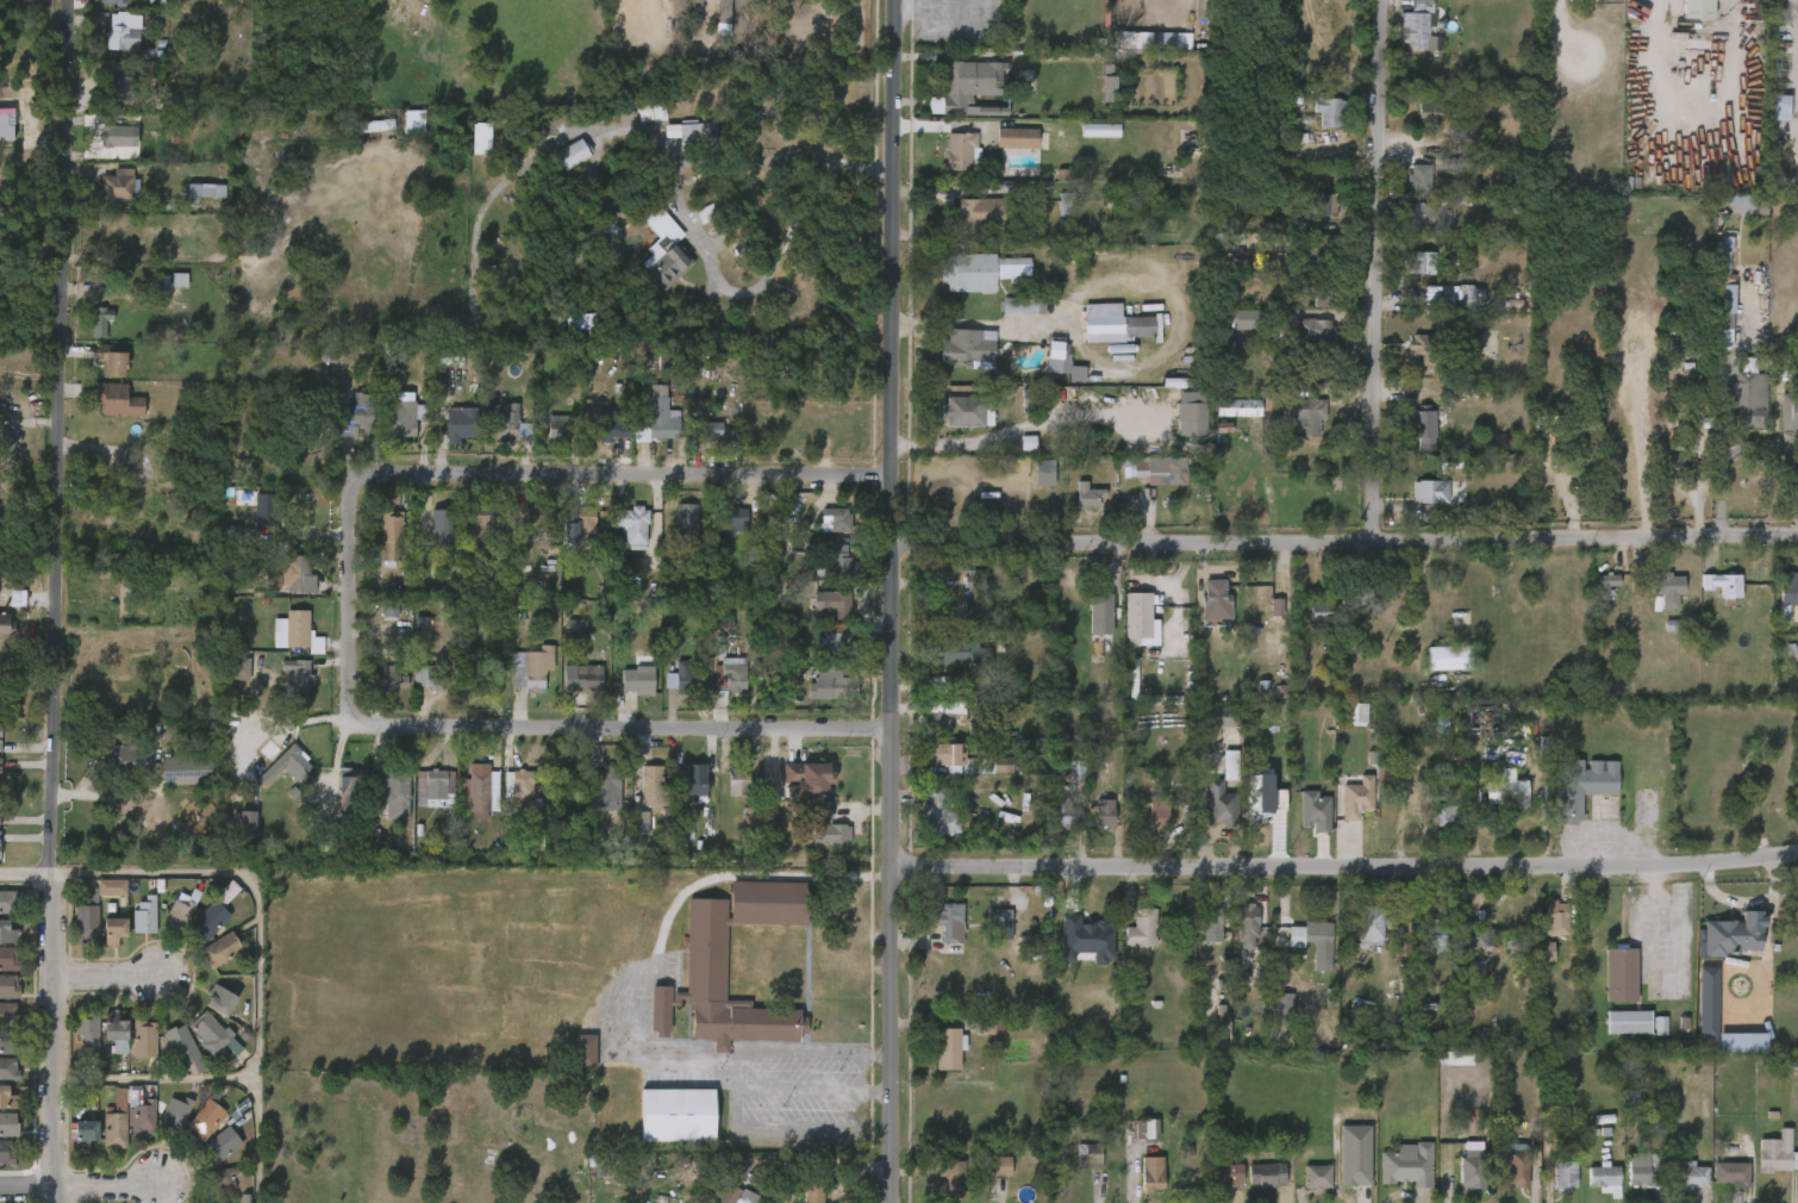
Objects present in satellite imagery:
building: (114, 0)
building: (695, 5)
road: (910, 8)
building: (1698, 8)
building: (723, 10)
building: (1417, 27)
building: (126, 32)
building: (1181, 45)
building: (970, 82)
building: (118, 89)
building: (1107, 89)
building: (1779, 108)
building: (651, 112)
building: (1329, 112)
building: (1431, 113)
road: (1680, 118)
building: (413, 123)
building: (554, 125)
building: (376, 126)
building: (7, 127)
building: (1100, 130)
building: (699, 133)
building: (114, 135)
building: (1018, 137)
building: (480, 139)
building: (963, 150)
building: (574, 152)
building: (1417, 179)
building: (117, 183)
building: (206, 189)
building: (1738, 204)
building: (1066, 205)
road: (680, 210)
building: (985, 210)
building: (1325, 210)
building: (502, 214)
building: (1426, 218)
building: (1234, 238)
building: (664, 249)
building: (1325, 256)
building: (1065, 257)
building: (1419, 262)
road: (1375, 269)
building: (959, 270)
building: (179, 280)
building: (161, 281)
building: (1723, 281)
road: (470, 288)
building: (1324, 295)
building: (1455, 297)
building: (1019, 305)
building: (1247, 319)
building: (99, 320)
building: (580, 324)
road: (980, 325)
building: (1117, 325)
building: (1313, 330)
building: (1723, 339)
building: (961, 348)
building: (1425, 349)
building: (326, 354)
building: (1057, 357)
building: (449, 359)
building: (111, 360)
building: (1315, 370)
building: (1076, 374)
building: (1176, 382)
building: (1744, 397)
building: (1026, 399)
building: (1063, 399)
building: (118, 400)
building: (1237, 409)
road: (1717, 410)
building: (969, 411)
building: (356, 414)
building: (658, 417)
building: (1306, 418)
building: (397, 419)
building: (1191, 419)
building: (511, 424)
building: (608, 425)
building: (556, 428)
road: (1022, 429)
building: (458, 430)
building: (711, 430)
building: (1422, 431)
building: (7, 442)
building: (1028, 443)
building: (1675, 465)
building: (1578, 466)
building: (1137, 469)
building: (1044, 473)
road: (626, 474)
building: (1424, 493)
building: (1090, 499)
building: (263, 510)
building: (538, 516)
building: (483, 519)
building: (838, 519)
building: (580, 521)
building: (732, 521)
building: (633, 523)
building: (686, 525)
building: (441, 528)
building: (391, 536)
building: (583, 541)
road: (1343, 541)
building: (751, 556)
building: (839, 561)
building: (298, 573)
building: (423, 574)
building: (1721, 586)
road: (350, 590)
building: (1604, 590)
building: (1787, 590)
building: (1260, 591)
building: (1671, 592)
building: (769, 594)
building: (975, 596)
building: (1360, 596)
building: (17, 598)
building: (1213, 598)
road: (888, 600)
road: (57, 601)
building: (836, 603)
building: (1276, 607)
building: (388, 609)
building: (1321, 611)
building: (1099, 613)
building: (1140, 621)
building: (570, 624)
building: (7, 625)
building: (296, 634)
building: (837, 644)
building: (961, 653)
building: (1794, 653)
building: (1448, 657)
building: (239, 666)
building: (532, 669)
building: (298, 673)
building: (429, 677)
building: (589, 677)
building: (387, 678)
building: (728, 679)
building: (638, 680)
building: (682, 681)
building: (838, 681)
building: (935, 685)
building: (1356, 712)
building: (1223, 717)
building: (1482, 717)
building: (942, 721)
building: (1440, 724)
road: (613, 725)
building: (0, 741)
building: (942, 754)
building: (282, 760)
building: (126, 761)
building: (1230, 765)
building: (1074, 768)
building: (183, 769)
building: (0, 772)
building: (342, 780)
building: (604, 781)
building: (700, 781)
building: (739, 783)
building: (807, 784)
building: (1581, 785)
building: (654, 786)
building: (518, 787)
building: (435, 789)
building: (480, 790)
building: (393, 792)
building: (1260, 793)
building: (1505, 793)
building: (351, 797)
building: (1355, 797)
building: (1772, 798)
building: (1280, 800)
building: (1219, 803)
building: (938, 811)
building: (1157, 811)
building: (1315, 811)
building: (1061, 814)
building: (1103, 814)
building: (1441, 816)
building: (1723, 819)
building: (641, 823)
building: (246, 825)
building: (831, 828)
road: (1343, 867)
road: (26, 873)
building: (111, 887)
building: (10, 903)
building: (181, 910)
building: (214, 914)
building: (144, 917)
building: (89, 918)
building: (1554, 918)
building: (951, 922)
building: (1209, 922)
building: (1367, 923)
building: (999, 924)
building: (1244, 925)
building: (1140, 930)
building: (8, 931)
building: (113, 931)
building: (1733, 934)
building: (1431, 935)
building: (1475, 935)
building: (1085, 940)
road: (257, 943)
building: (1316, 943)
building: (1511, 945)
building: (220, 950)
building: (1544, 952)
building: (705, 956)
building: (10, 959)
building: (1475, 971)
building: (1618, 974)
road: (110, 977)
building: (10, 987)
road: (630, 987)
building: (1708, 999)
building: (220, 1001)
building: (1279, 1008)
building: (10, 1014)
building: (1625, 1022)
building: (989, 1027)
building: (89, 1028)
building: (120, 1031)
building: (213, 1033)
building: (145, 1037)
building: (8, 1042)
building: (182, 1048)
building: (949, 1049)
building: (583, 1051)
building: (1454, 1059)
building: (8, 1070)
road: (156, 1083)
building: (10, 1098)
building: (176, 1112)
building: (676, 1114)
building: (208, 1115)
building: (145, 1118)
building: (118, 1122)
building: (10, 1124)
building: (1143, 1128)
building: (89, 1134)
building: (226, 1137)
building: (7, 1152)
building: (1773, 1153)
building: (1355, 1155)
building: (1086, 1157)
building: (1000, 1165)
building: (1403, 1165)
building: (598, 1167)
building: (1468, 1168)
building: (1517, 1168)
building: (1641, 1170)
building: (1150, 1174)
building: (1228, 1174)
building: (1265, 1174)
building: (1729, 1174)
building: (1562, 1176)
building: (953, 1177)
building: (1316, 1177)
building: (1686, 1177)
building: (223, 1178)
building: (1602, 1178)
building: (812, 1185)
road: (27, 1186)
road: (111, 1186)
building: (736, 1196)

